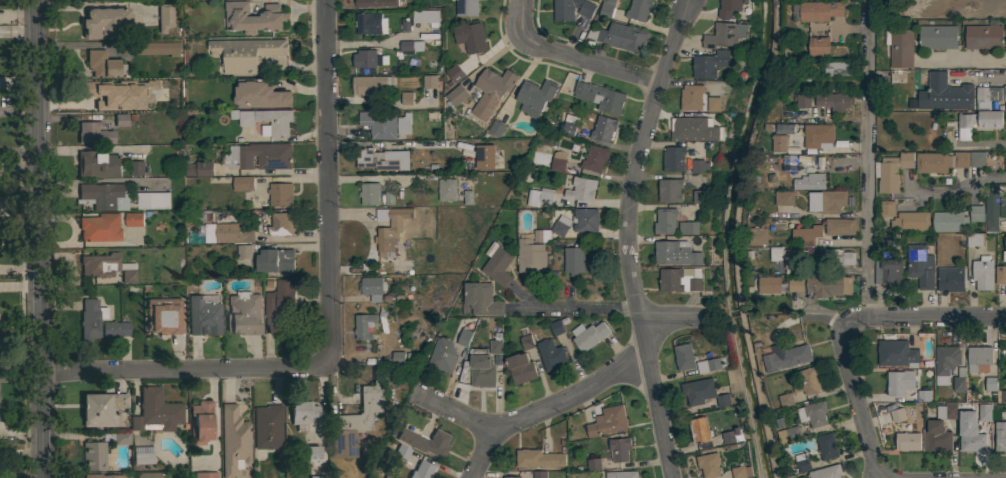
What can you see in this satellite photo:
building: (376, 3)
building: (893, 7)
building: (467, 8)
building: (606, 8)
building: (729, 8)
building: (931, 8)
building: (976, 8)
building: (572, 9)
building: (638, 9)
building: (1005, 9)
building: (819, 11)
building: (164, 16)
building: (253, 17)
building: (422, 19)
road: (518, 19)
building: (103, 22)
building: (371, 24)
building: (725, 35)
building: (984, 36)
building: (471, 37)
building: (620, 37)
building: (937, 37)
building: (817, 46)
building: (409, 47)
building: (900, 47)
building: (157, 48)
building: (245, 54)
building: (366, 59)
road: (590, 62)
road: (963, 62)
building: (101, 63)
building: (709, 64)
building: (837, 69)
building: (455, 73)
building: (430, 81)
building: (370, 84)
building: (152, 87)
building: (491, 91)
building: (948, 93)
building: (991, 93)
building: (100, 94)
building: (259, 94)
building: (457, 94)
building: (535, 97)
building: (600, 97)
building: (691, 97)
building: (407, 98)
building: (803, 100)
building: (834, 101)
building: (713, 104)
building: (1005, 107)
building: (246, 117)
building: (120, 119)
building: (275, 122)
building: (977, 122)
building: (379, 124)
building: (404, 124)
building: (569, 125)
building: (496, 128)
building: (603, 128)
building: (686, 128)
building: (94, 133)
building: (707, 135)
building: (817, 136)
building: (777, 143)
building: (931, 147)
road: (982, 149)
building: (258, 156)
building: (484, 156)
building: (594, 158)
building: (673, 158)
building: (383, 159)
building: (977, 159)
building: (961, 160)
building: (1005, 162)
building: (98, 163)
building: (933, 163)
building: (557, 164)
building: (699, 166)
building: (137, 168)
building: (199, 168)
building: (891, 171)
building: (811, 181)
building: (243, 183)
road: (328, 184)
building: (581, 189)
building: (447, 190)
building: (670, 190)
road: (962, 192)
building: (369, 193)
building: (281, 194)
building: (104, 195)
building: (700, 196)
building: (540, 197)
building: (784, 198)
building: (464, 199)
building: (153, 200)
building: (827, 201)
building: (887, 208)
building: (1002, 208)
building: (977, 213)
building: (212, 216)
building: (991, 216)
building: (134, 219)
building: (585, 220)
building: (665, 221)
building: (949, 221)
building: (910, 222)
building: (281, 224)
building: (839, 226)
building: (100, 227)
building: (391, 228)
building: (687, 228)
building: (550, 232)
building: (227, 233)
building: (808, 234)
building: (757, 235)
road: (623, 236)
road: (40, 238)
building: (974, 239)
building: (888, 242)
building: (1005, 243)
building: (243, 251)
road: (868, 252)
building: (675, 254)
building: (530, 257)
building: (785, 257)
building: (839, 257)
building: (574, 259)
building: (275, 260)
building: (100, 264)
building: (497, 264)
building: (919, 266)
building: (405, 268)
road: (837, 270)
building: (888, 272)
building: (983, 273)
building: (128, 275)
building: (1000, 275)
building: (680, 279)
building: (950, 279)
building: (769, 284)
building: (371, 285)
building: (796, 285)
building: (829, 285)
building: (482, 299)
building: (278, 305)
road: (617, 311)
building: (244, 313)
building: (204, 314)
building: (163, 315)
building: (90, 318)
road: (824, 319)
road: (937, 322)
building: (364, 326)
building: (556, 327)
building: (115, 328)
building: (589, 335)
building: (464, 337)
building: (526, 342)
building: (496, 344)
building: (896, 353)
building: (491, 354)
building: (551, 354)
building: (443, 355)
building: (398, 357)
building: (684, 357)
building: (793, 357)
building: (980, 357)
building: (1005, 358)
building: (945, 363)
building: (711, 365)
building: (481, 368)
building: (521, 368)
road: (187, 374)
building: (959, 380)
building: (808, 381)
building: (900, 382)
building: (991, 384)
building: (703, 392)
building: (924, 396)
building: (1003, 396)
building: (785, 400)
road: (546, 406)
building: (101, 408)
building: (156, 411)
building: (302, 411)
building: (945, 411)
road: (453, 412)
building: (813, 413)
building: (984, 413)
building: (897, 414)
building: (354, 421)
building: (608, 421)
building: (201, 422)
building: (267, 426)
building: (699, 430)
building: (789, 434)
building: (732, 436)
building: (1000, 436)
building: (117, 437)
building: (936, 437)
building: (233, 439)
building: (424, 440)
building: (971, 440)
building: (907, 441)
building: (827, 446)
building: (619, 449)
building: (402, 451)
building: (311, 452)
building: (143, 454)
building: (94, 455)
building: (539, 458)
building: (802, 462)
building: (594, 464)
building: (709, 465)
building: (421, 470)
building: (741, 472)
building: (826, 472)
building: (540, 474)
building: (621, 474)
building: (148, 475)
building: (205, 475)
building: (101, 476)
building: (318, 476)
building: (386, 476)
building: (381, 477)
building: (513, 477)

